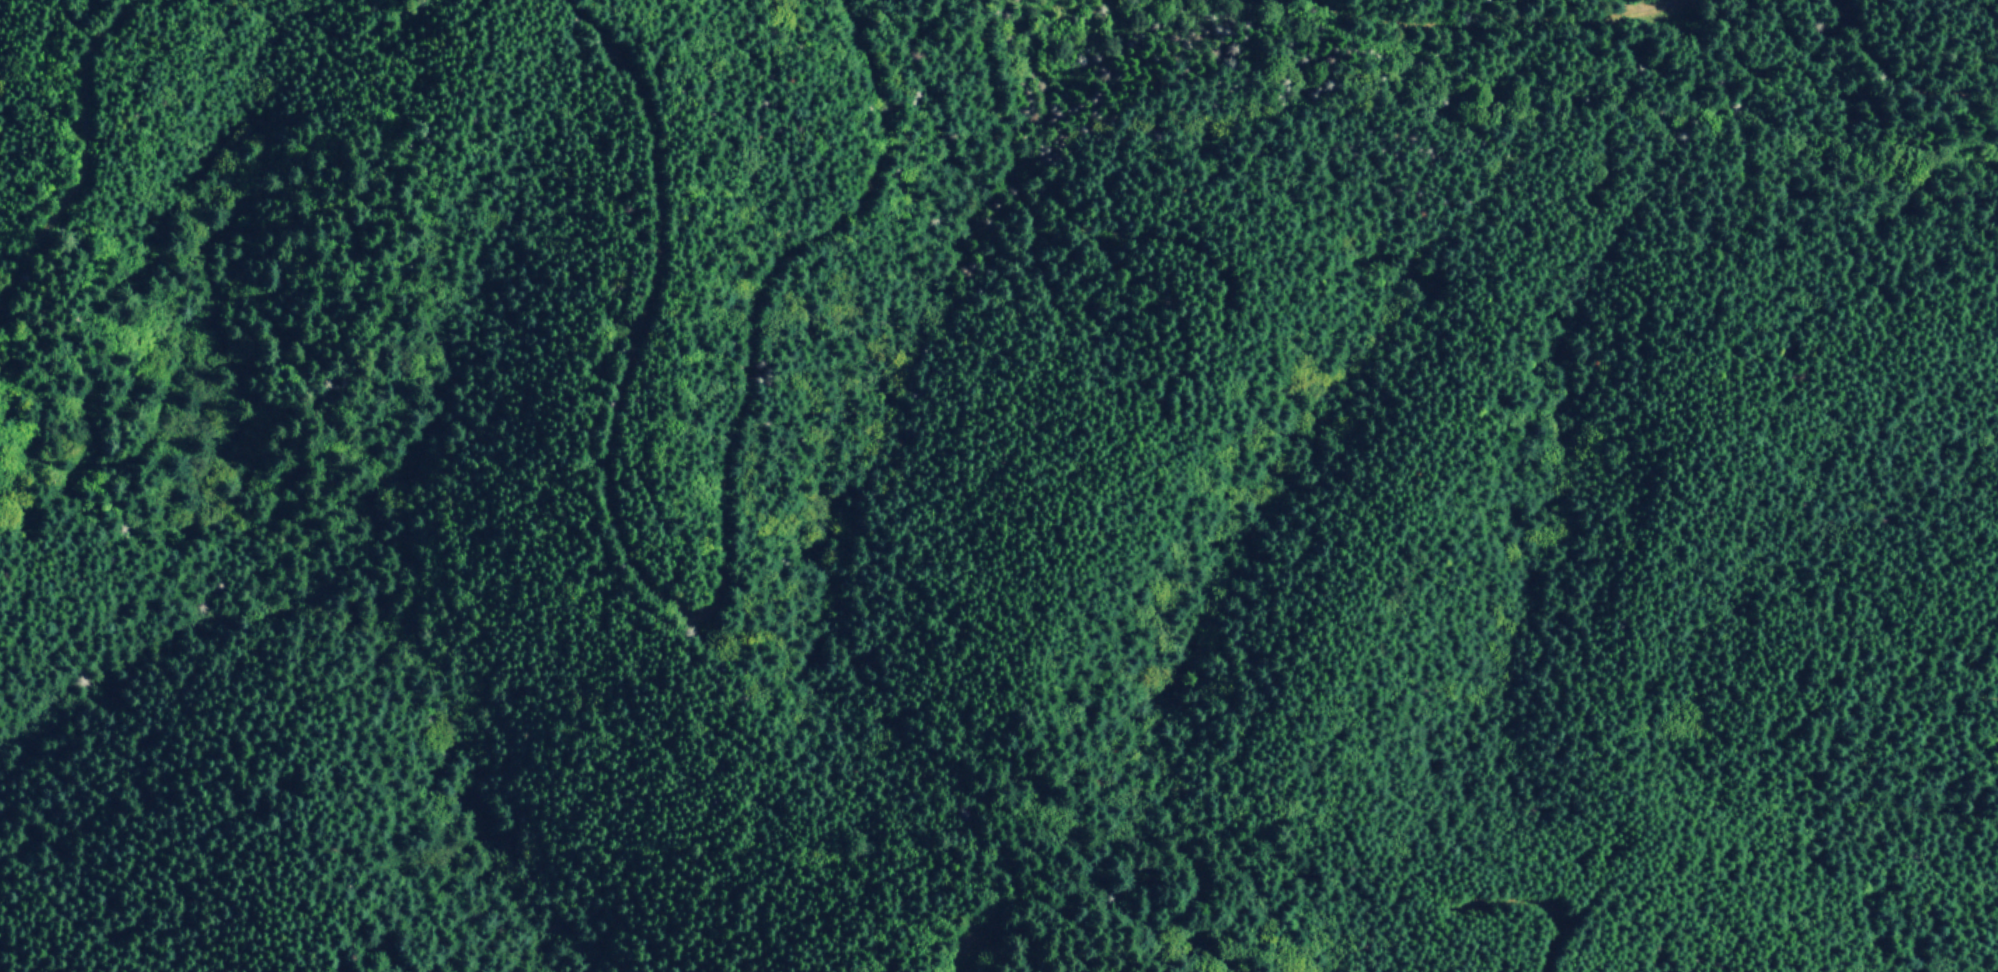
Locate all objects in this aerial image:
road: (1504, 20)
road: (1898, 77)
road: (81, 145)
road: (690, 618)
road: (1537, 900)
road: (972, 951)

